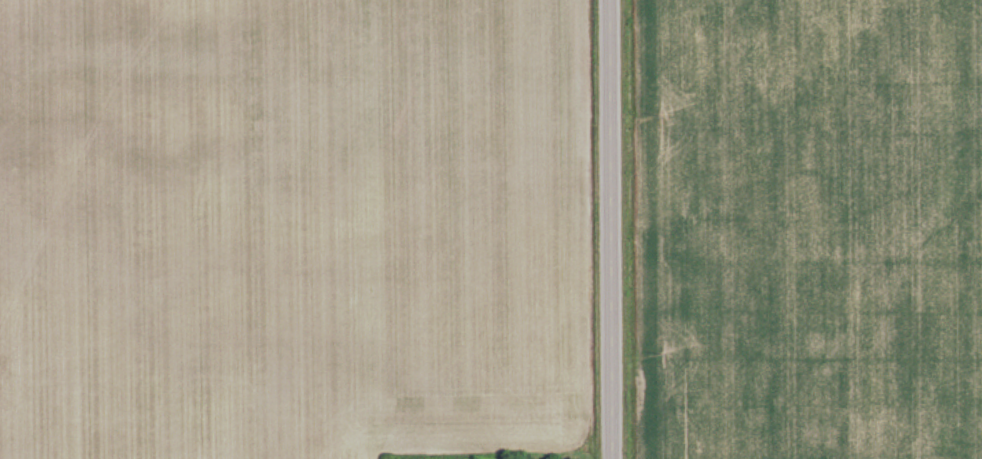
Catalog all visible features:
road: (611, 229)

